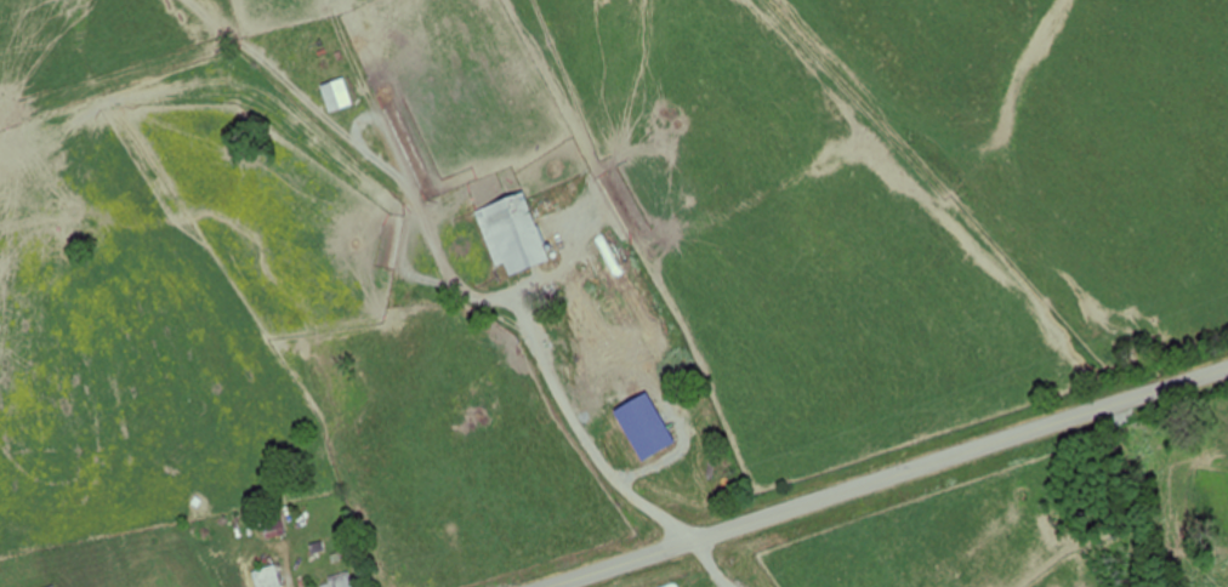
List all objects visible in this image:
building: (334, 96)
building: (512, 234)
road: (887, 477)
building: (271, 520)
building: (267, 576)
building: (337, 581)

